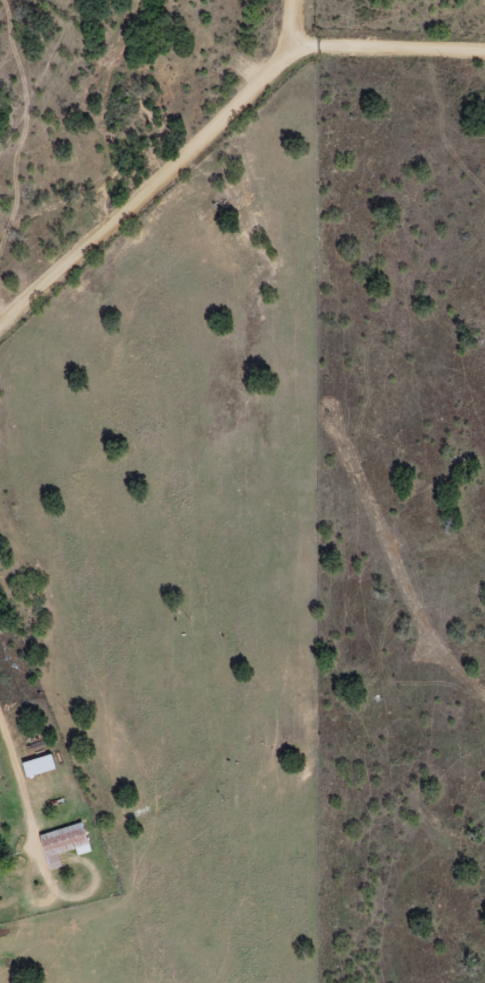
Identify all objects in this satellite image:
road: (295, 27)
road: (389, 49)
road: (148, 191)
building: (62, 842)

